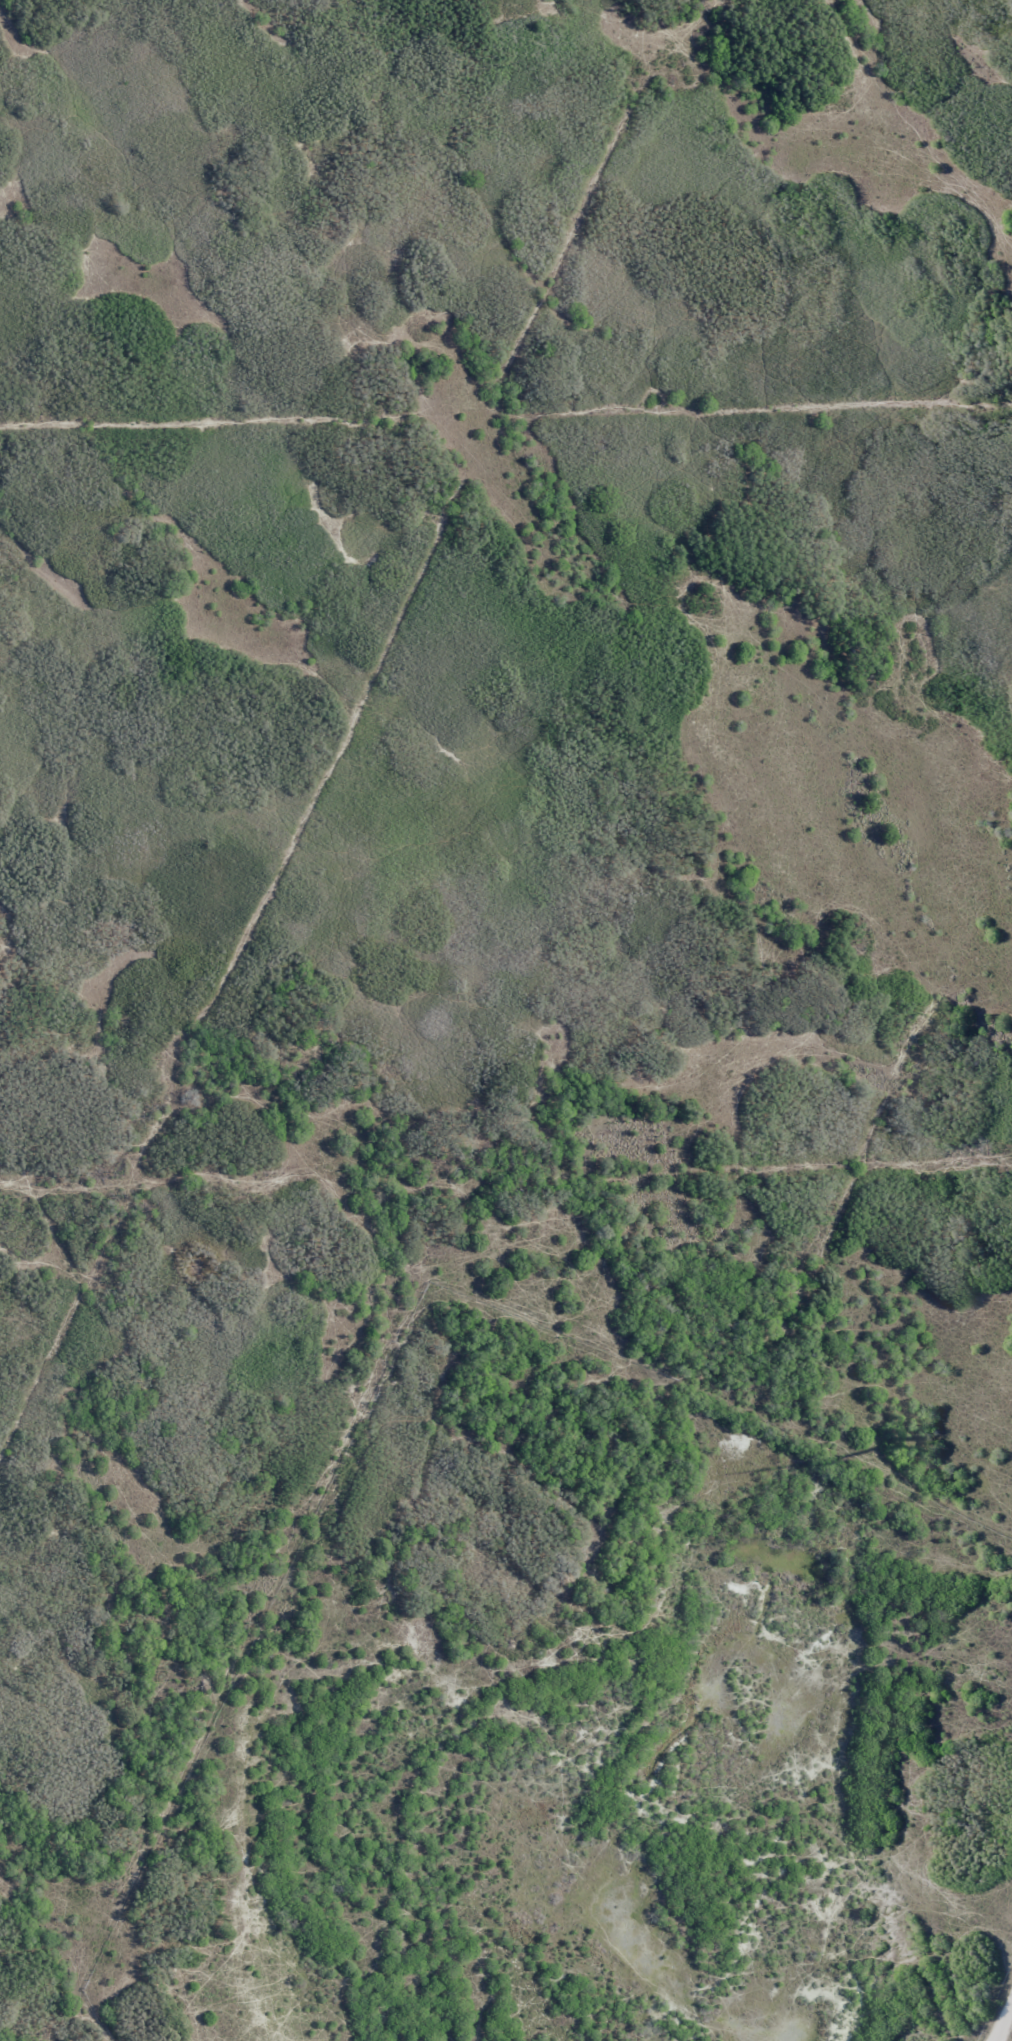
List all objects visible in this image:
road: (986, 1997)

